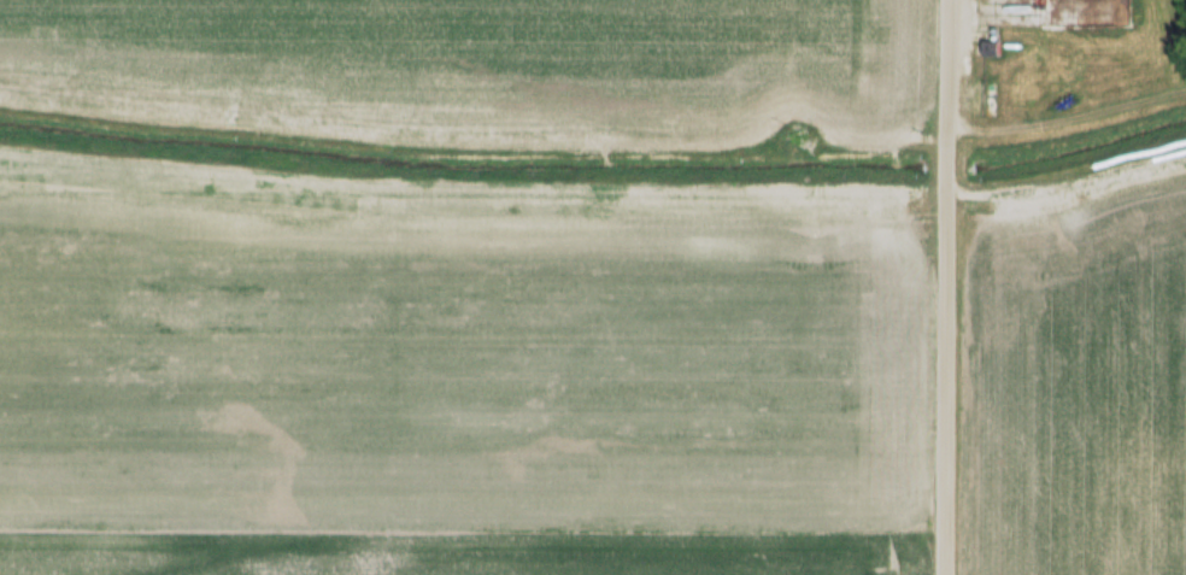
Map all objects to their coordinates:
building: (991, 48)
building: (987, 99)
road: (944, 287)

